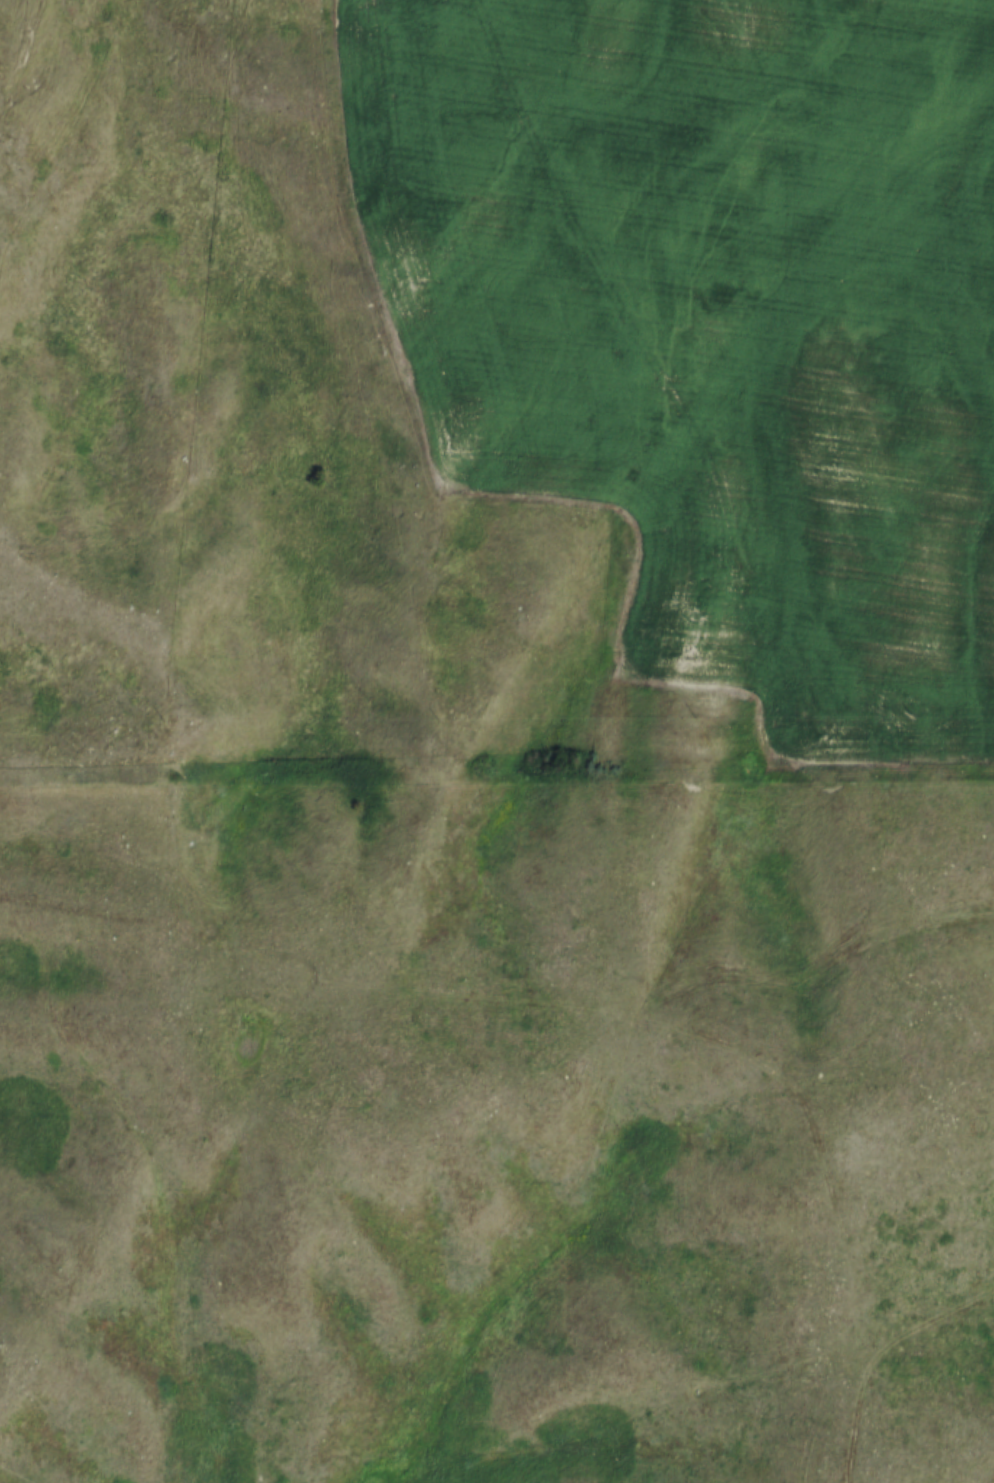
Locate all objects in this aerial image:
building: (861, 174)
road: (882, 1355)

